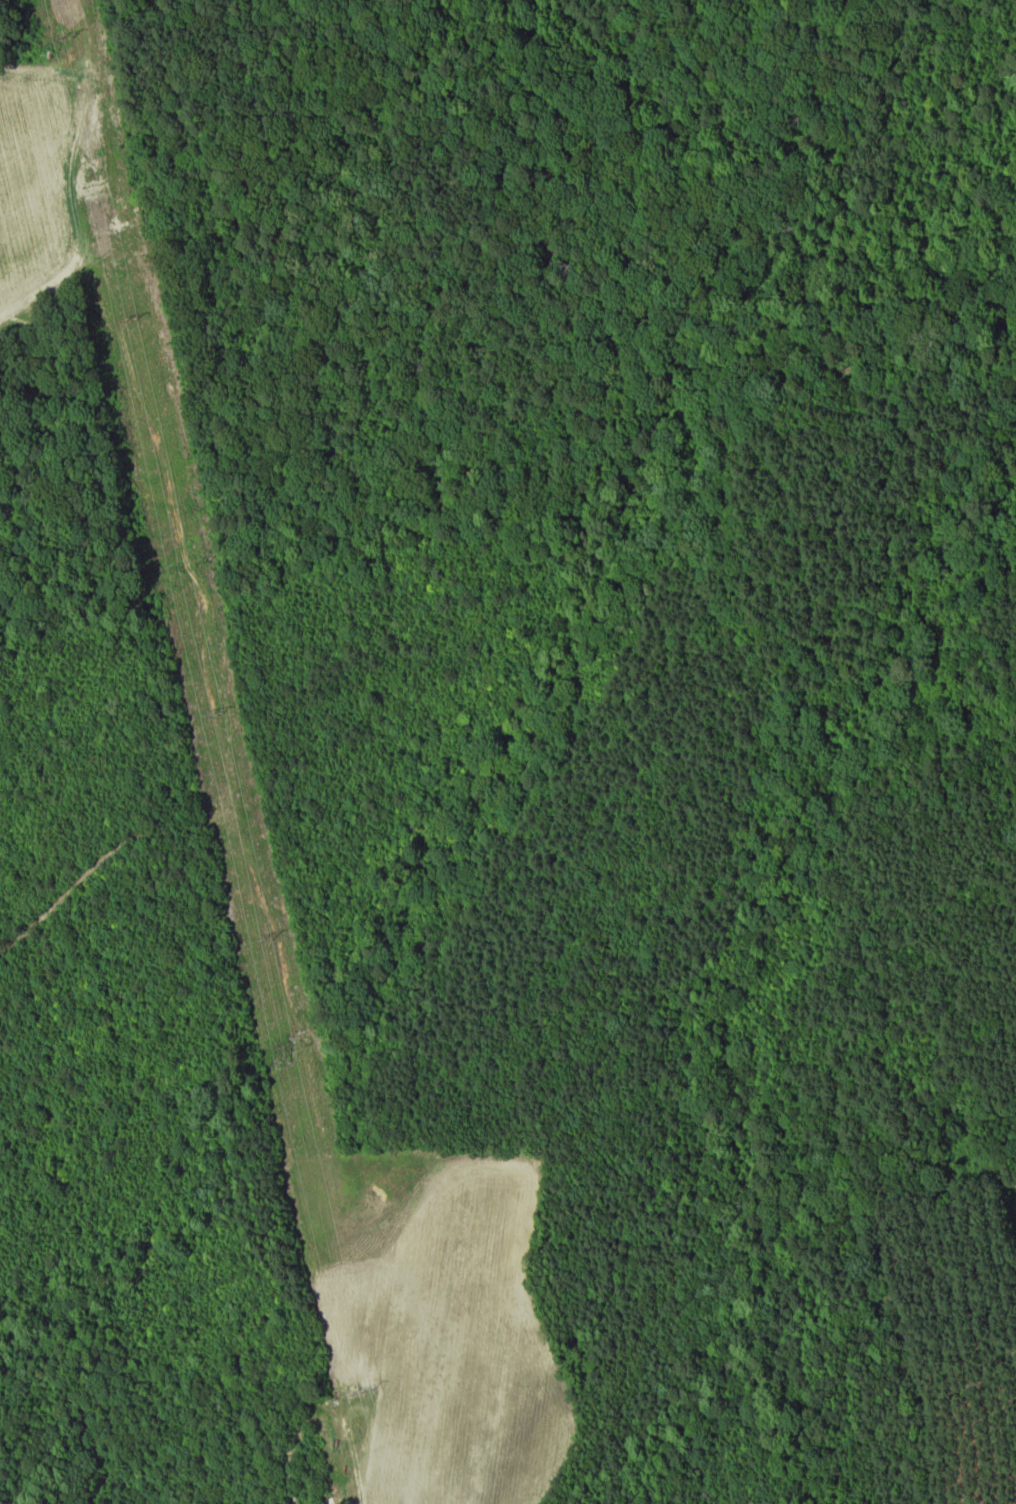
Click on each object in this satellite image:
power tower: (71, 35)
power tower: (131, 321)
power tower: (220, 714)
power tower: (268, 942)
power tower: (364, 1391)

